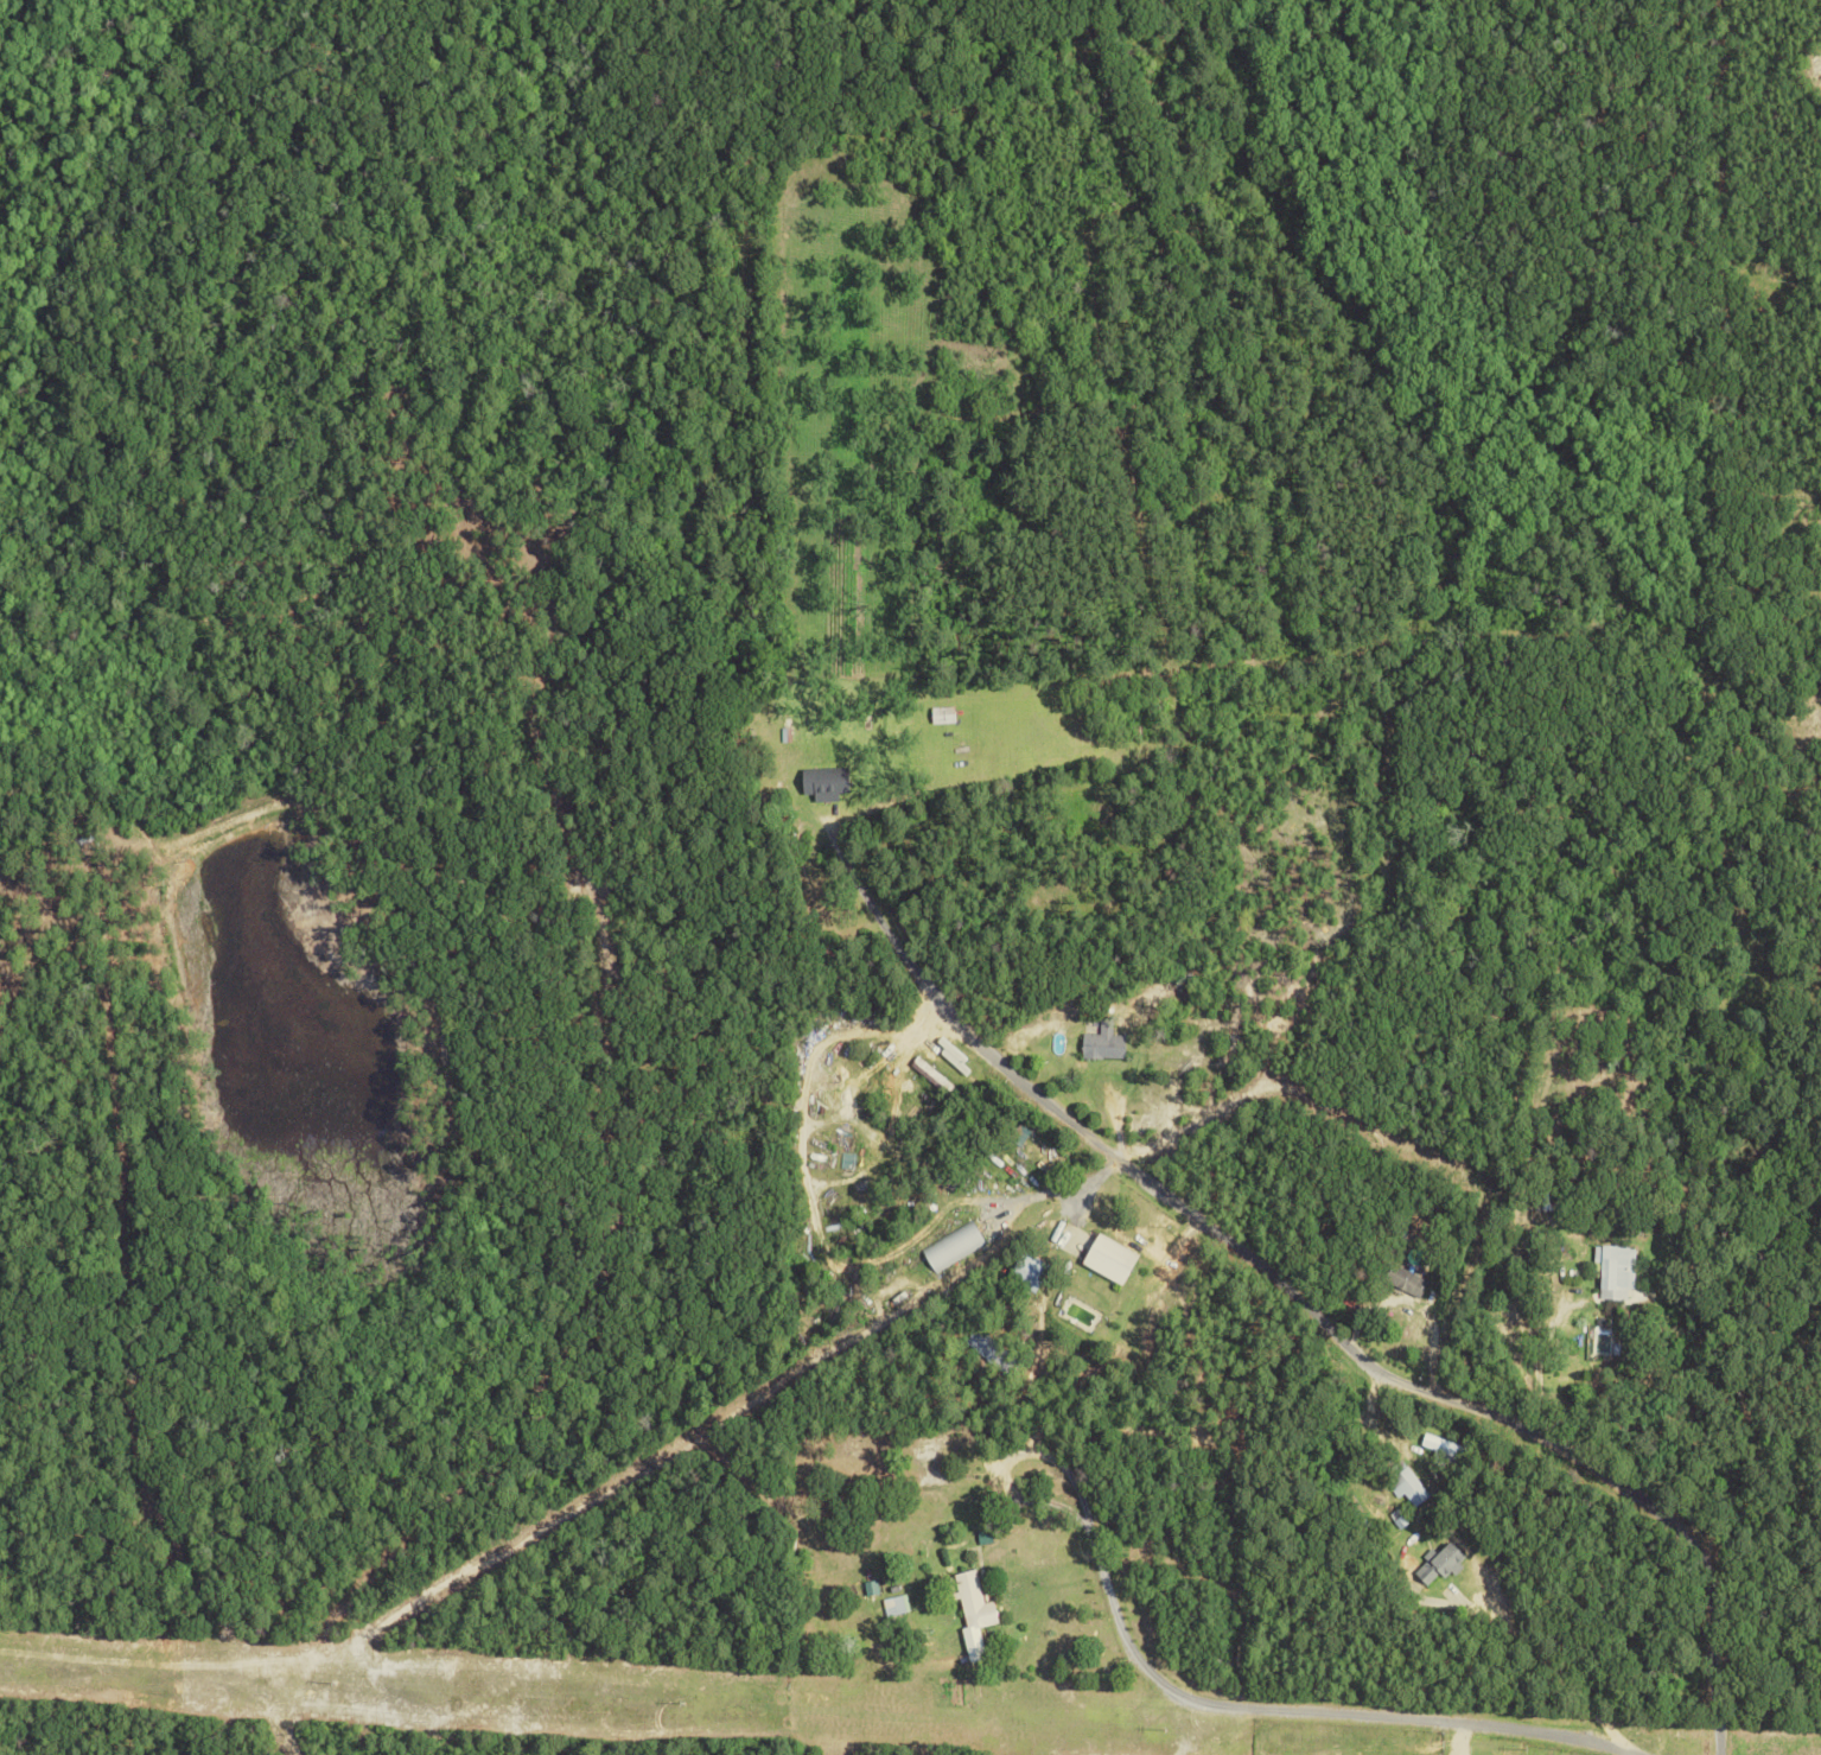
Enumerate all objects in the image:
building: (943, 714)
building: (826, 782)
building: (1103, 1043)
building: (954, 1246)
building: (1110, 1259)
building: (1616, 1271)
road: (1330, 1309)
building: (1441, 1445)
road: (993, 1463)
building: (1408, 1487)
building: (1440, 1564)
building: (897, 1605)
building: (974, 1613)
road: (1545, 1662)
road: (1304, 1708)

